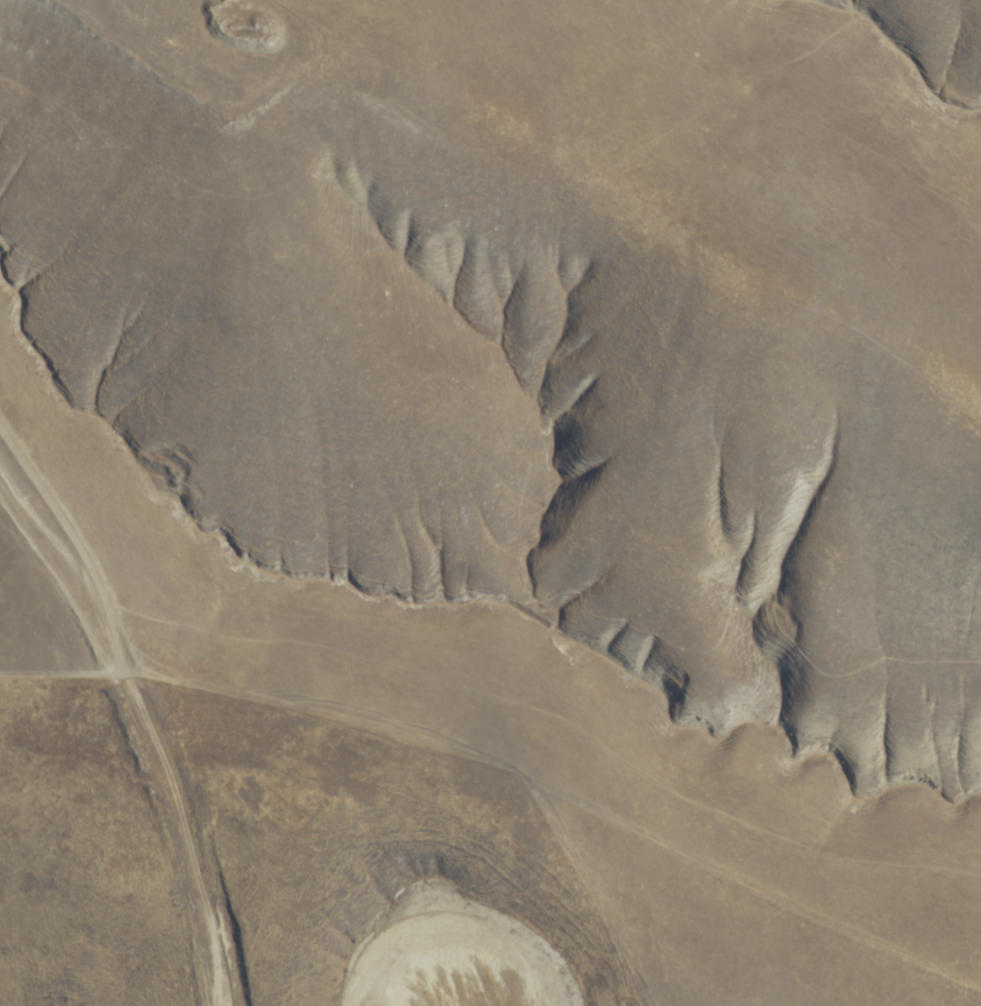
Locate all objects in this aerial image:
road: (93, 811)

